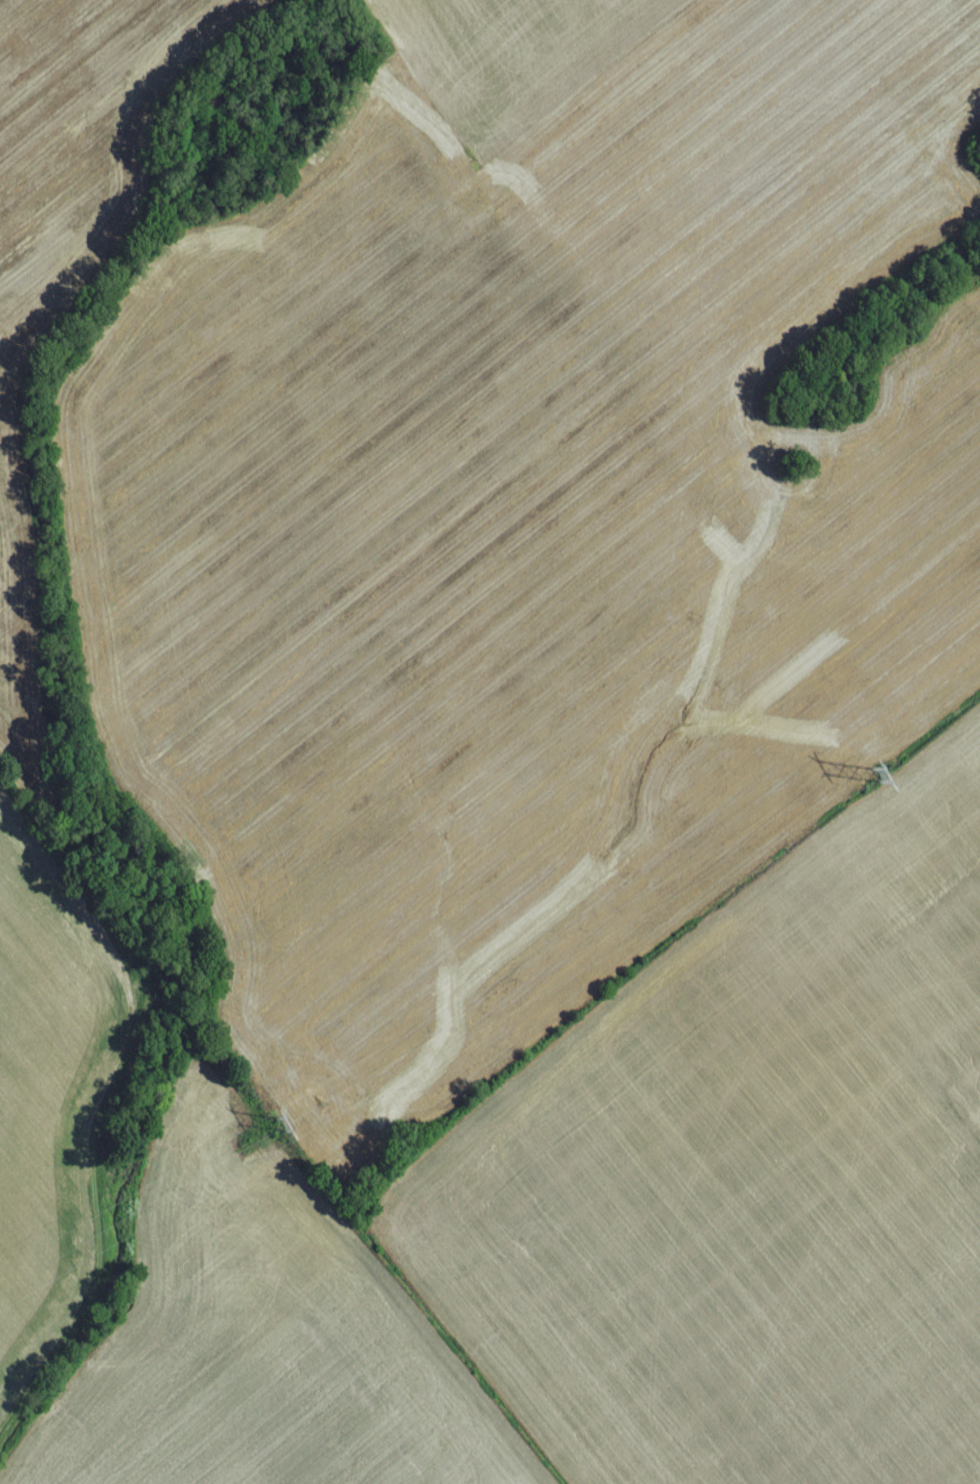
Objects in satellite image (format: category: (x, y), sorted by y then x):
power tower: (875, 780)
power tower: (278, 1131)

